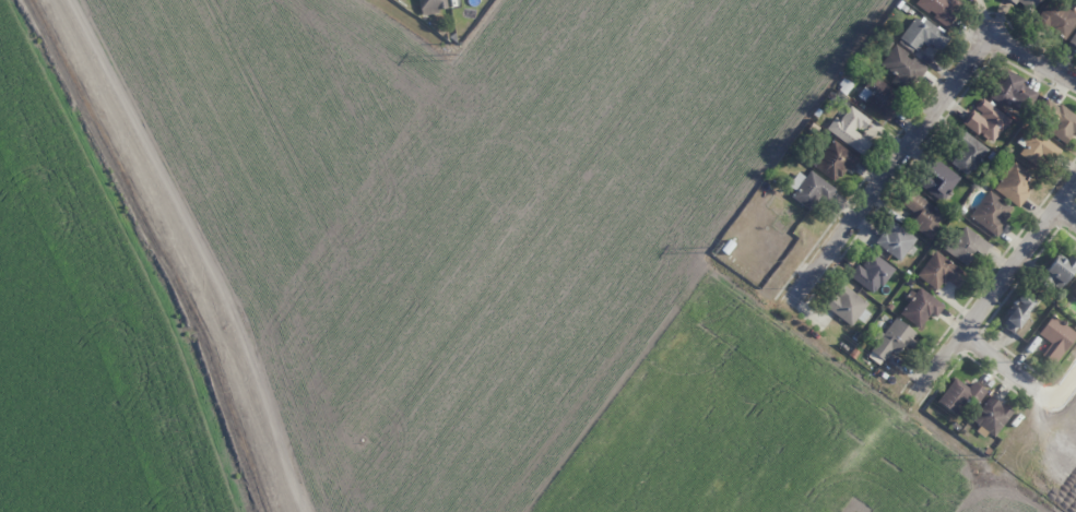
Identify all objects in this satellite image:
building: (1027, 3)
building: (431, 5)
building: (939, 9)
building: (1056, 19)
building: (922, 34)
building: (1073, 39)
power tower: (451, 57)
building: (901, 68)
building: (1013, 91)
building: (876, 96)
building: (1057, 119)
building: (986, 120)
road: (923, 124)
building: (850, 129)
building: (1038, 150)
building: (966, 153)
building: (835, 160)
building: (938, 180)
building: (1013, 183)
building: (808, 188)
building: (991, 213)
building: (922, 214)
road: (1067, 214)
building: (895, 239)
building: (966, 245)
power tower: (712, 248)
crop: (423, 265)
building: (1059, 271)
building: (871, 272)
building: (939, 272)
road: (996, 289)
building: (1074, 291)
building: (846, 303)
building: (920, 307)
building: (1017, 311)
building: (1055, 337)
building: (891, 338)
road: (1021, 378)
building: (959, 395)
building: (991, 415)
power tower: (992, 455)

